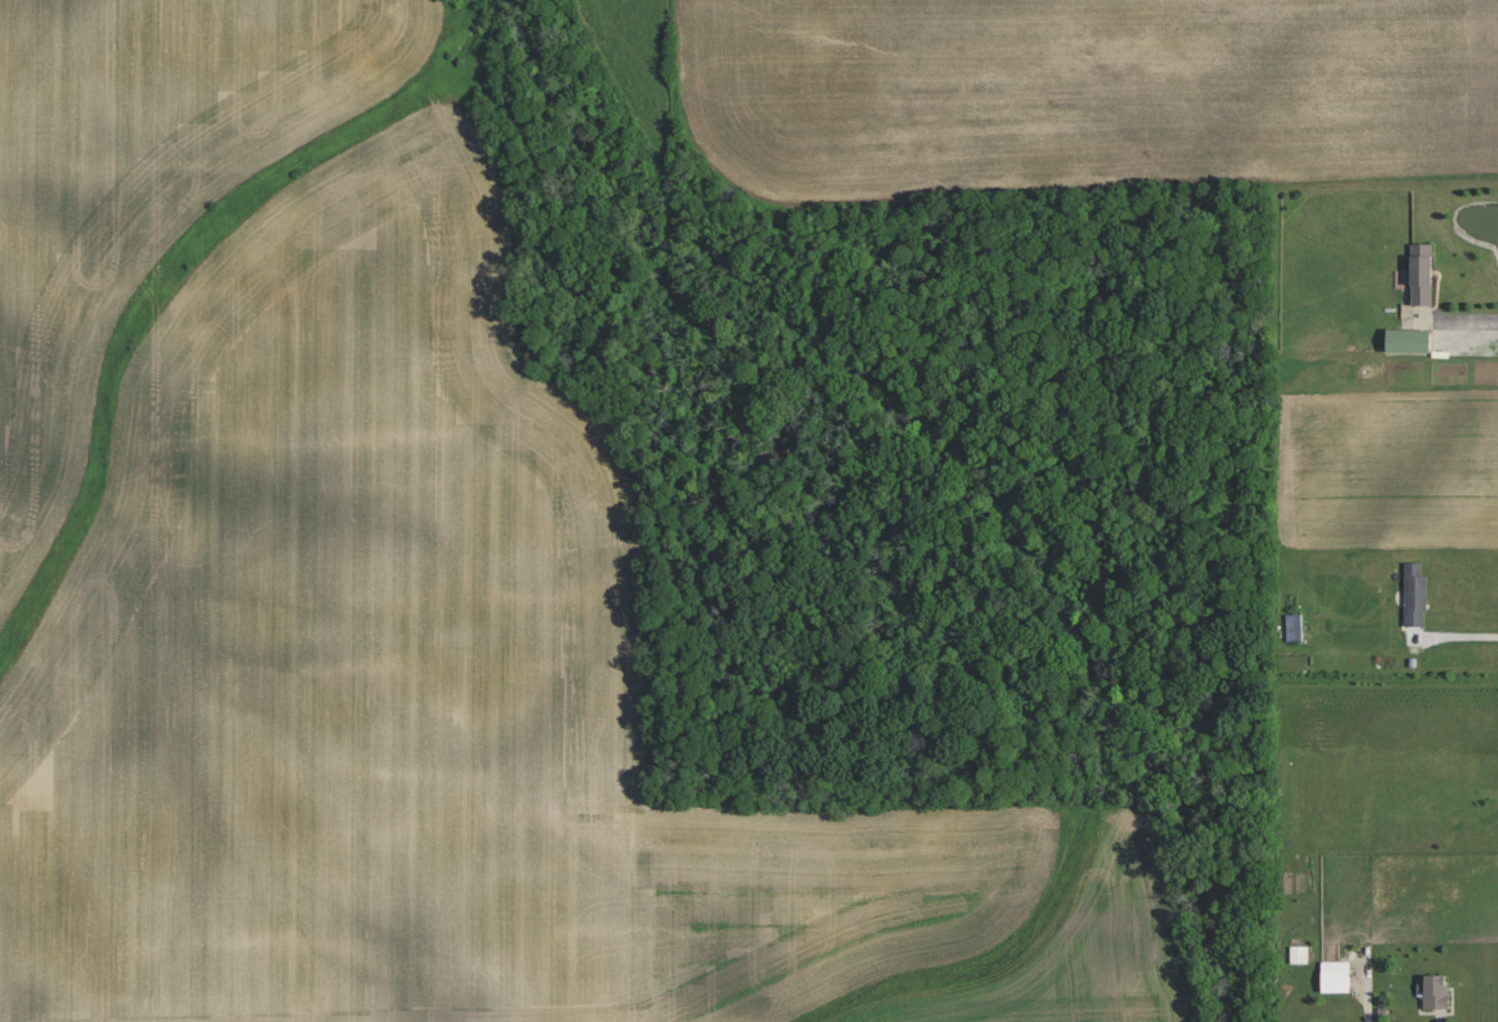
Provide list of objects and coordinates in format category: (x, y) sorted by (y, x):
building: (1421, 275)
road: (1473, 320)
building: (1407, 341)
building: (1415, 595)
building: (1294, 628)
road: (1460, 637)
building: (1299, 954)
building: (1335, 977)
road: (1365, 986)
building: (1434, 992)

